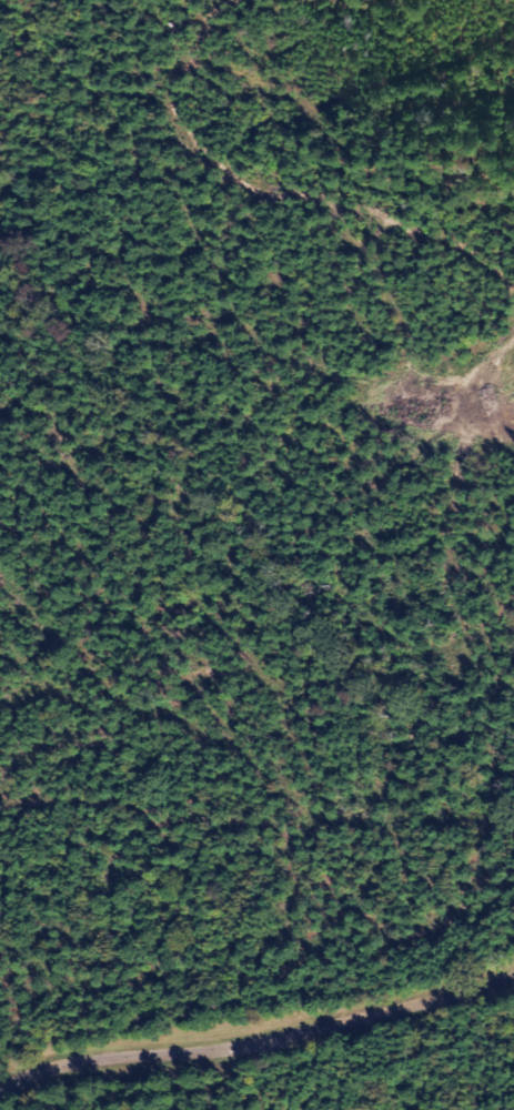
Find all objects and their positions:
road: (256, 1043)

